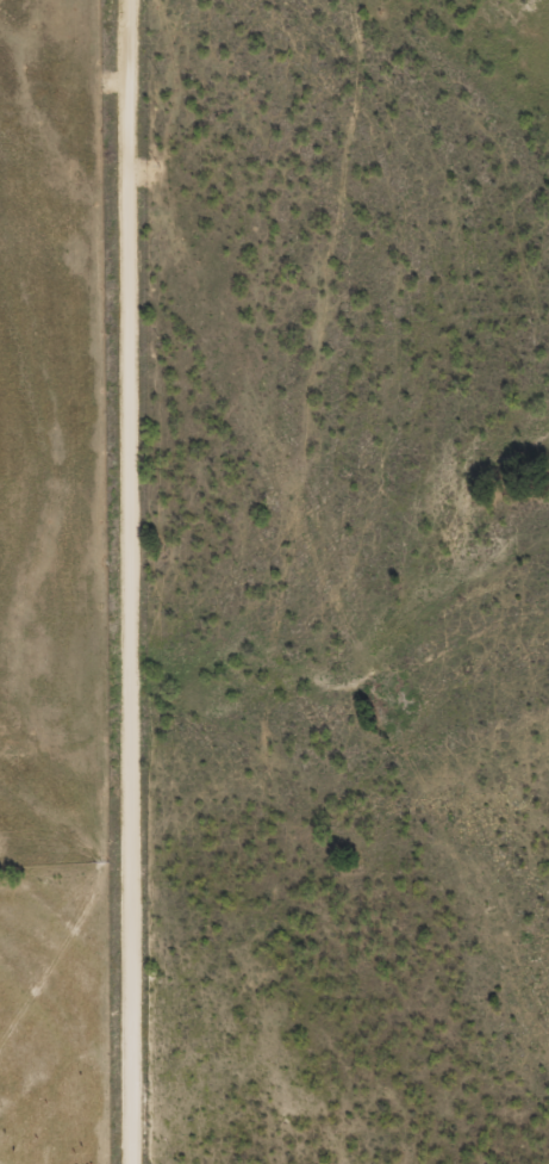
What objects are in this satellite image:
road: (126, 581)

